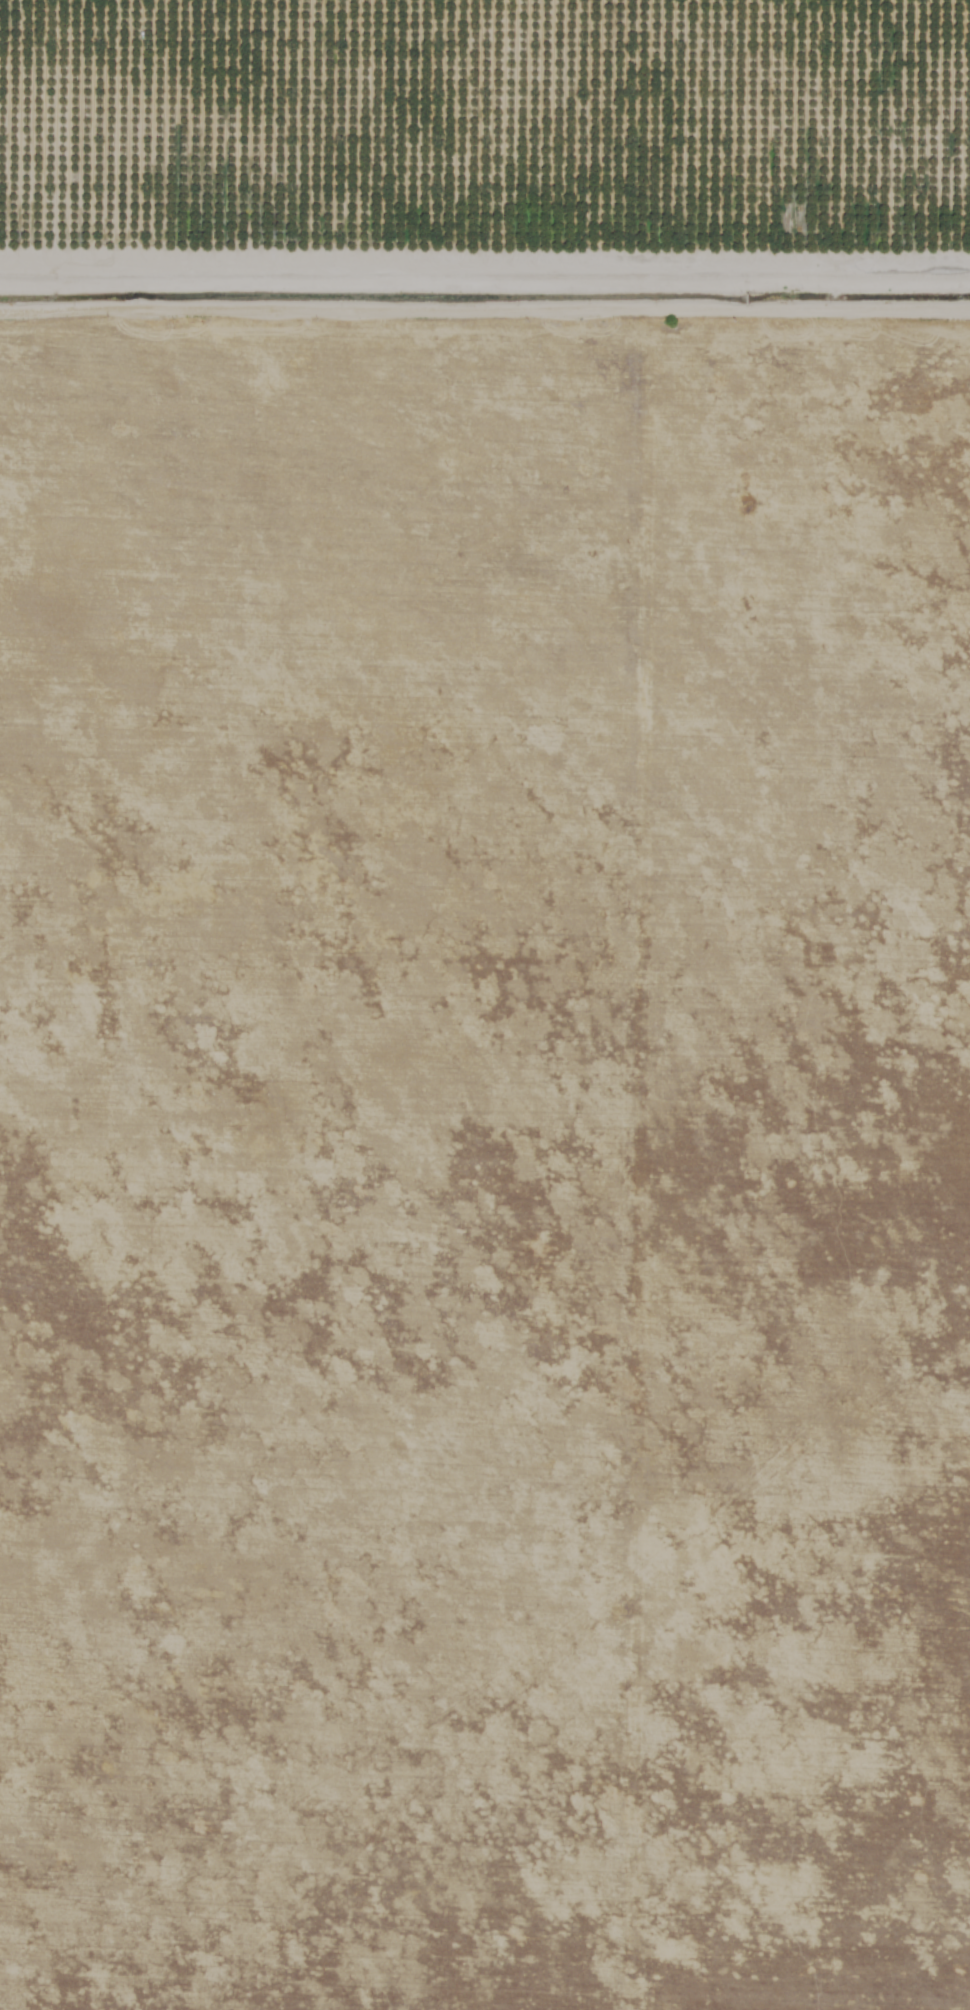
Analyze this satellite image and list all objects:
crop: (479, 854)
crop: (474, 1569)
crop: (485, 1792)
crop: (491, 1955)

